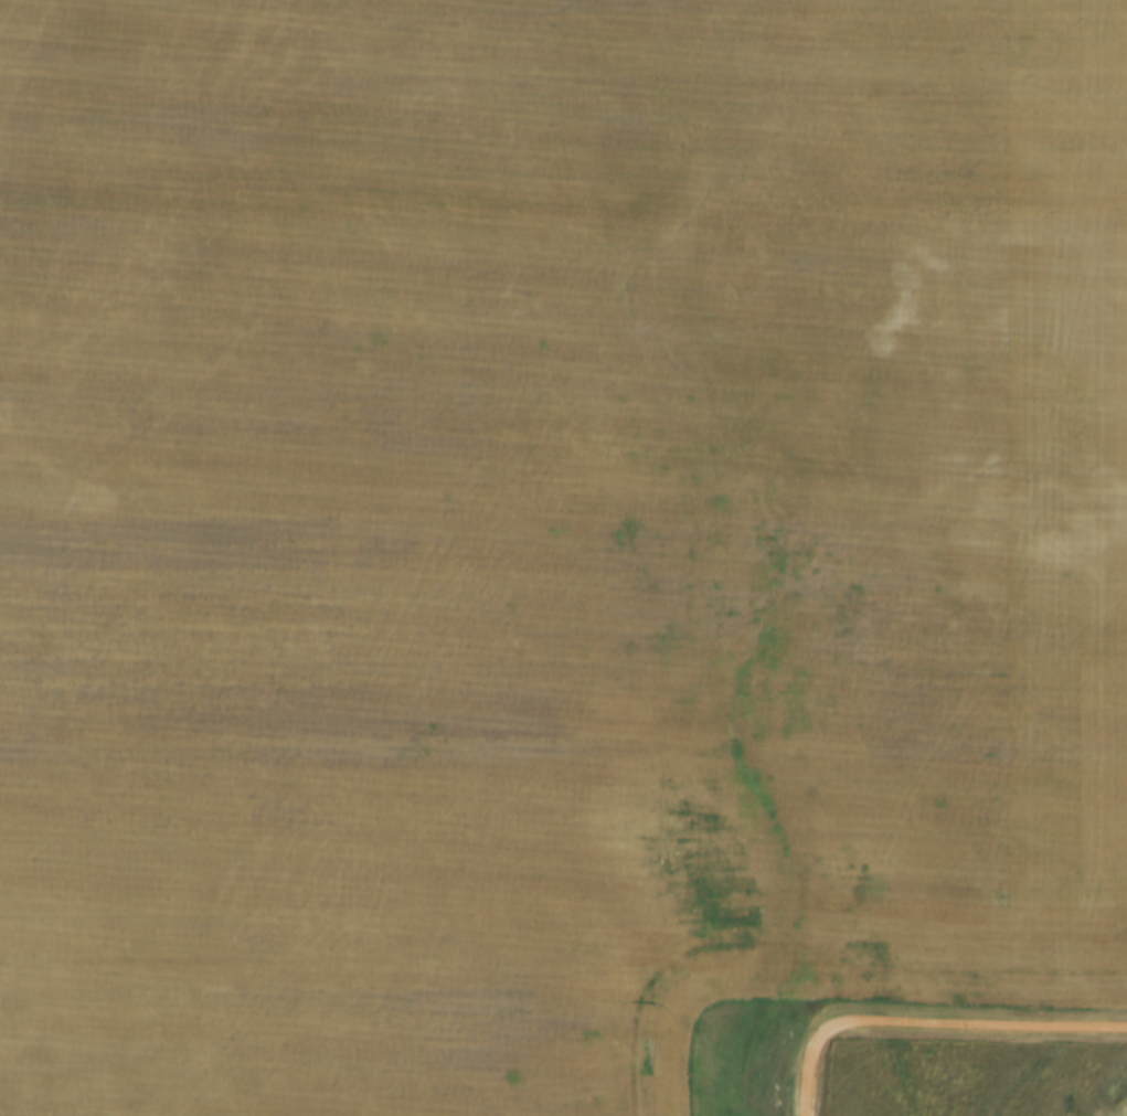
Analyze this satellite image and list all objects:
road: (933, 1024)

